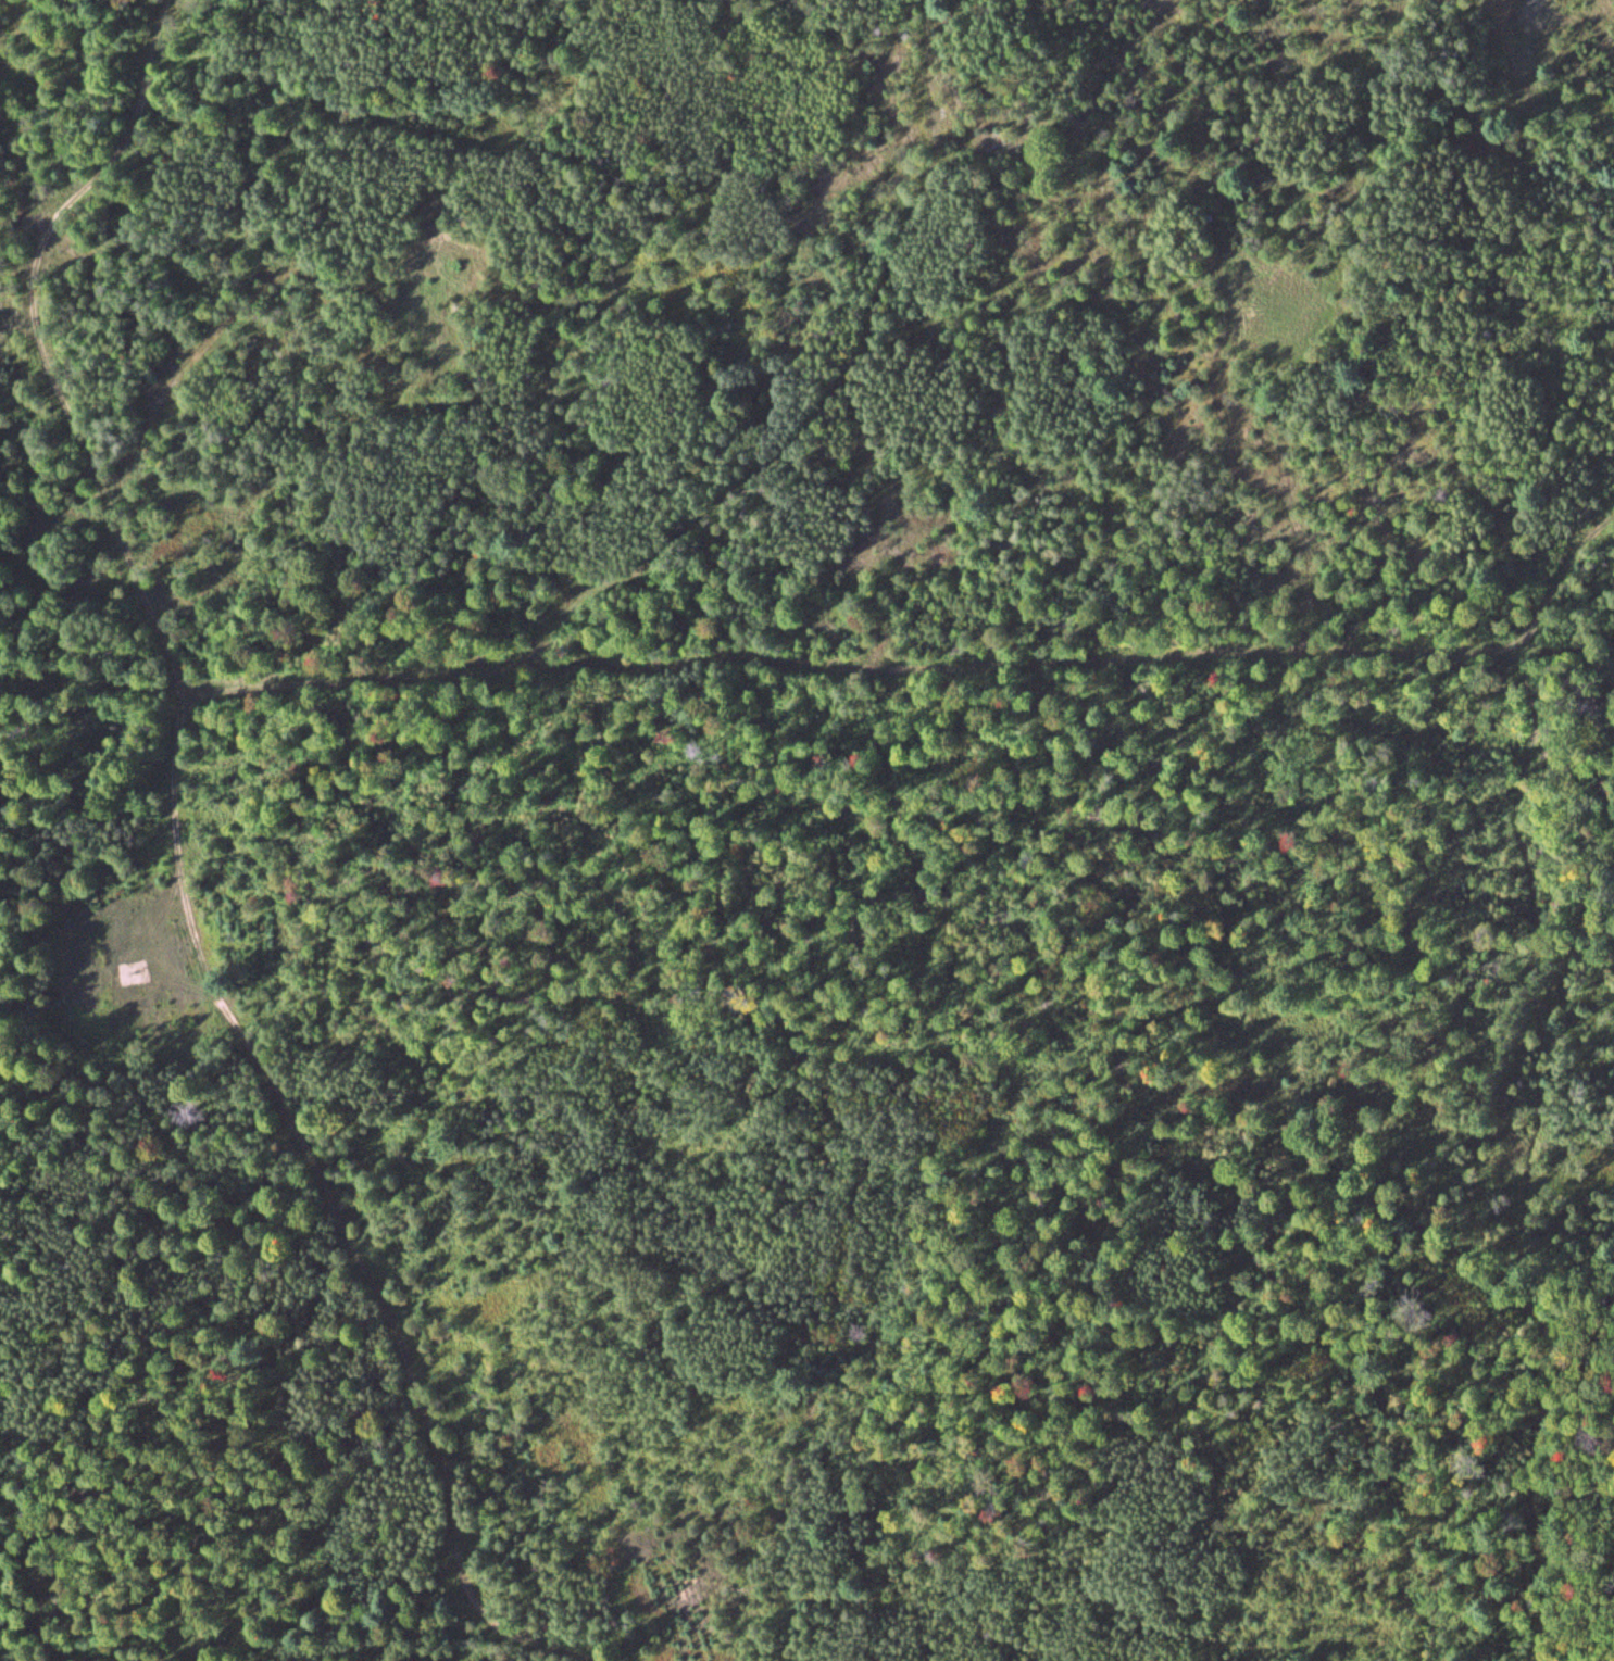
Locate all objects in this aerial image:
road: (938, 663)
road: (185, 863)

